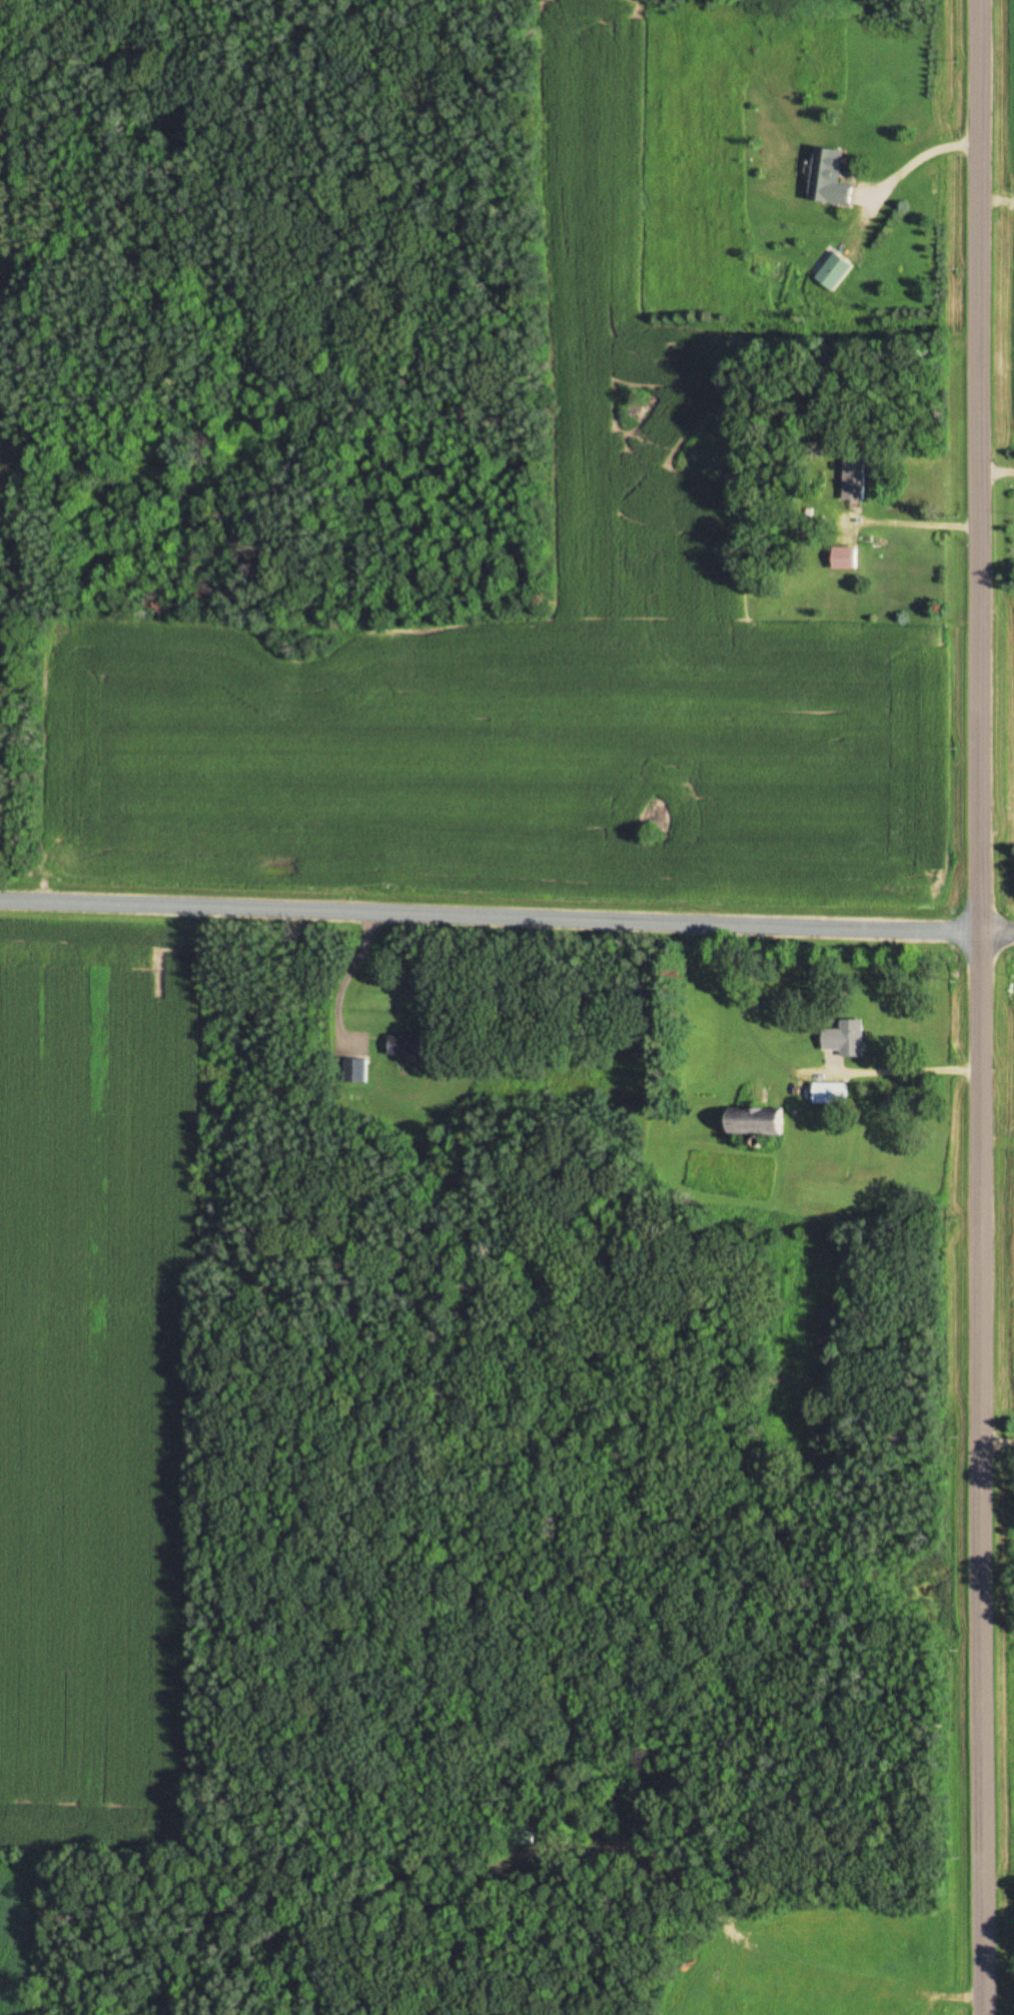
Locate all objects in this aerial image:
building: (828, 179)
building: (833, 273)
road: (989, 472)
building: (852, 479)
building: (843, 559)
road: (506, 939)
road: (965, 1007)
building: (846, 1040)
building: (404, 1047)
building: (355, 1072)
building: (830, 1095)
building: (753, 1123)
building: (521, 1835)

